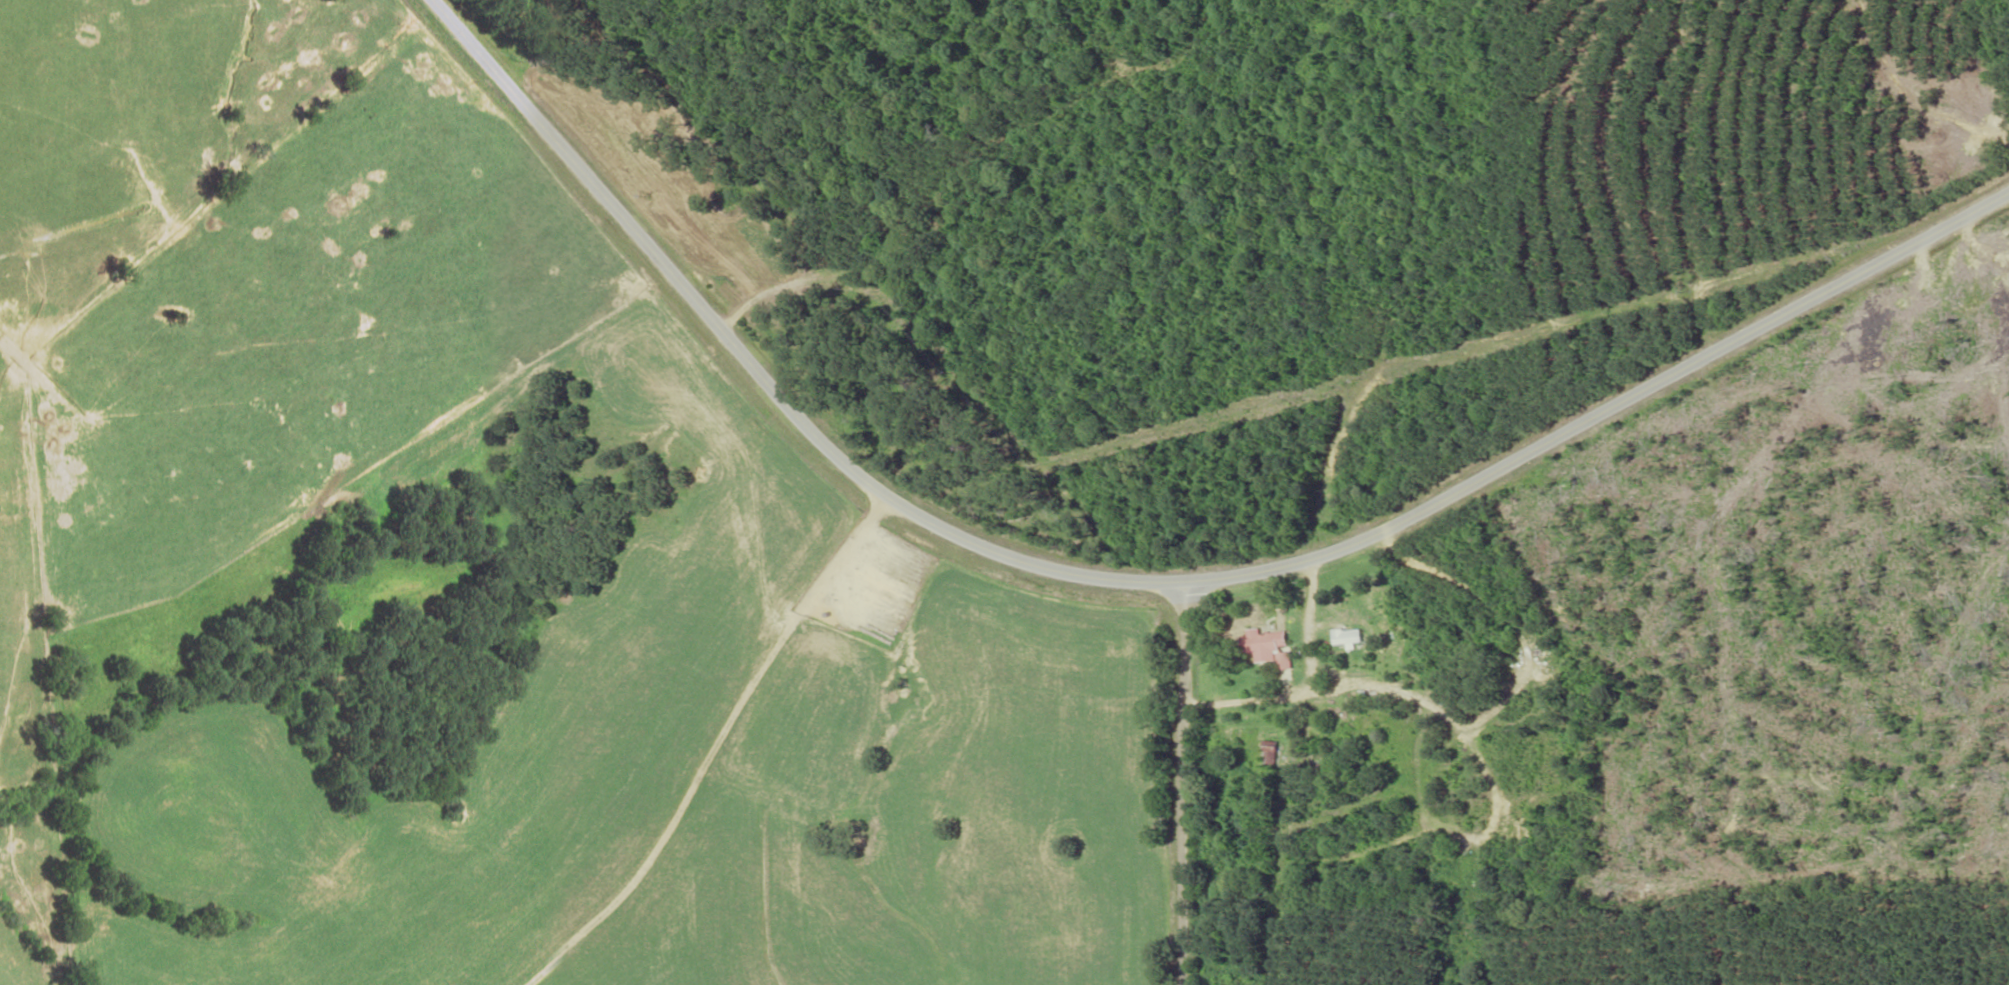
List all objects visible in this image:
road: (604, 81)
road: (1138, 587)
building: (1347, 636)
building: (1266, 645)
building: (1267, 756)
road: (1186, 786)

